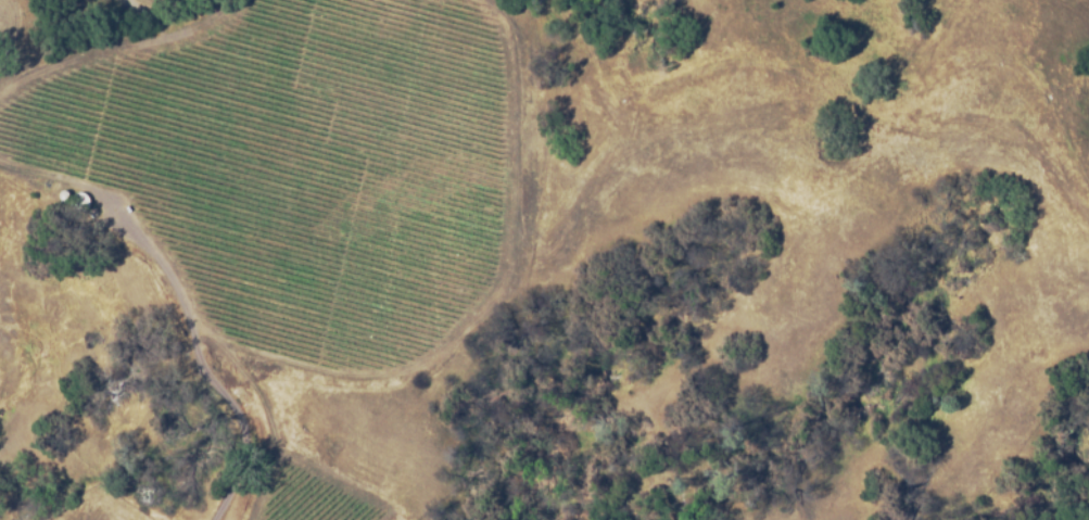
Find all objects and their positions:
road: (164, 17)
building: (76, 203)

